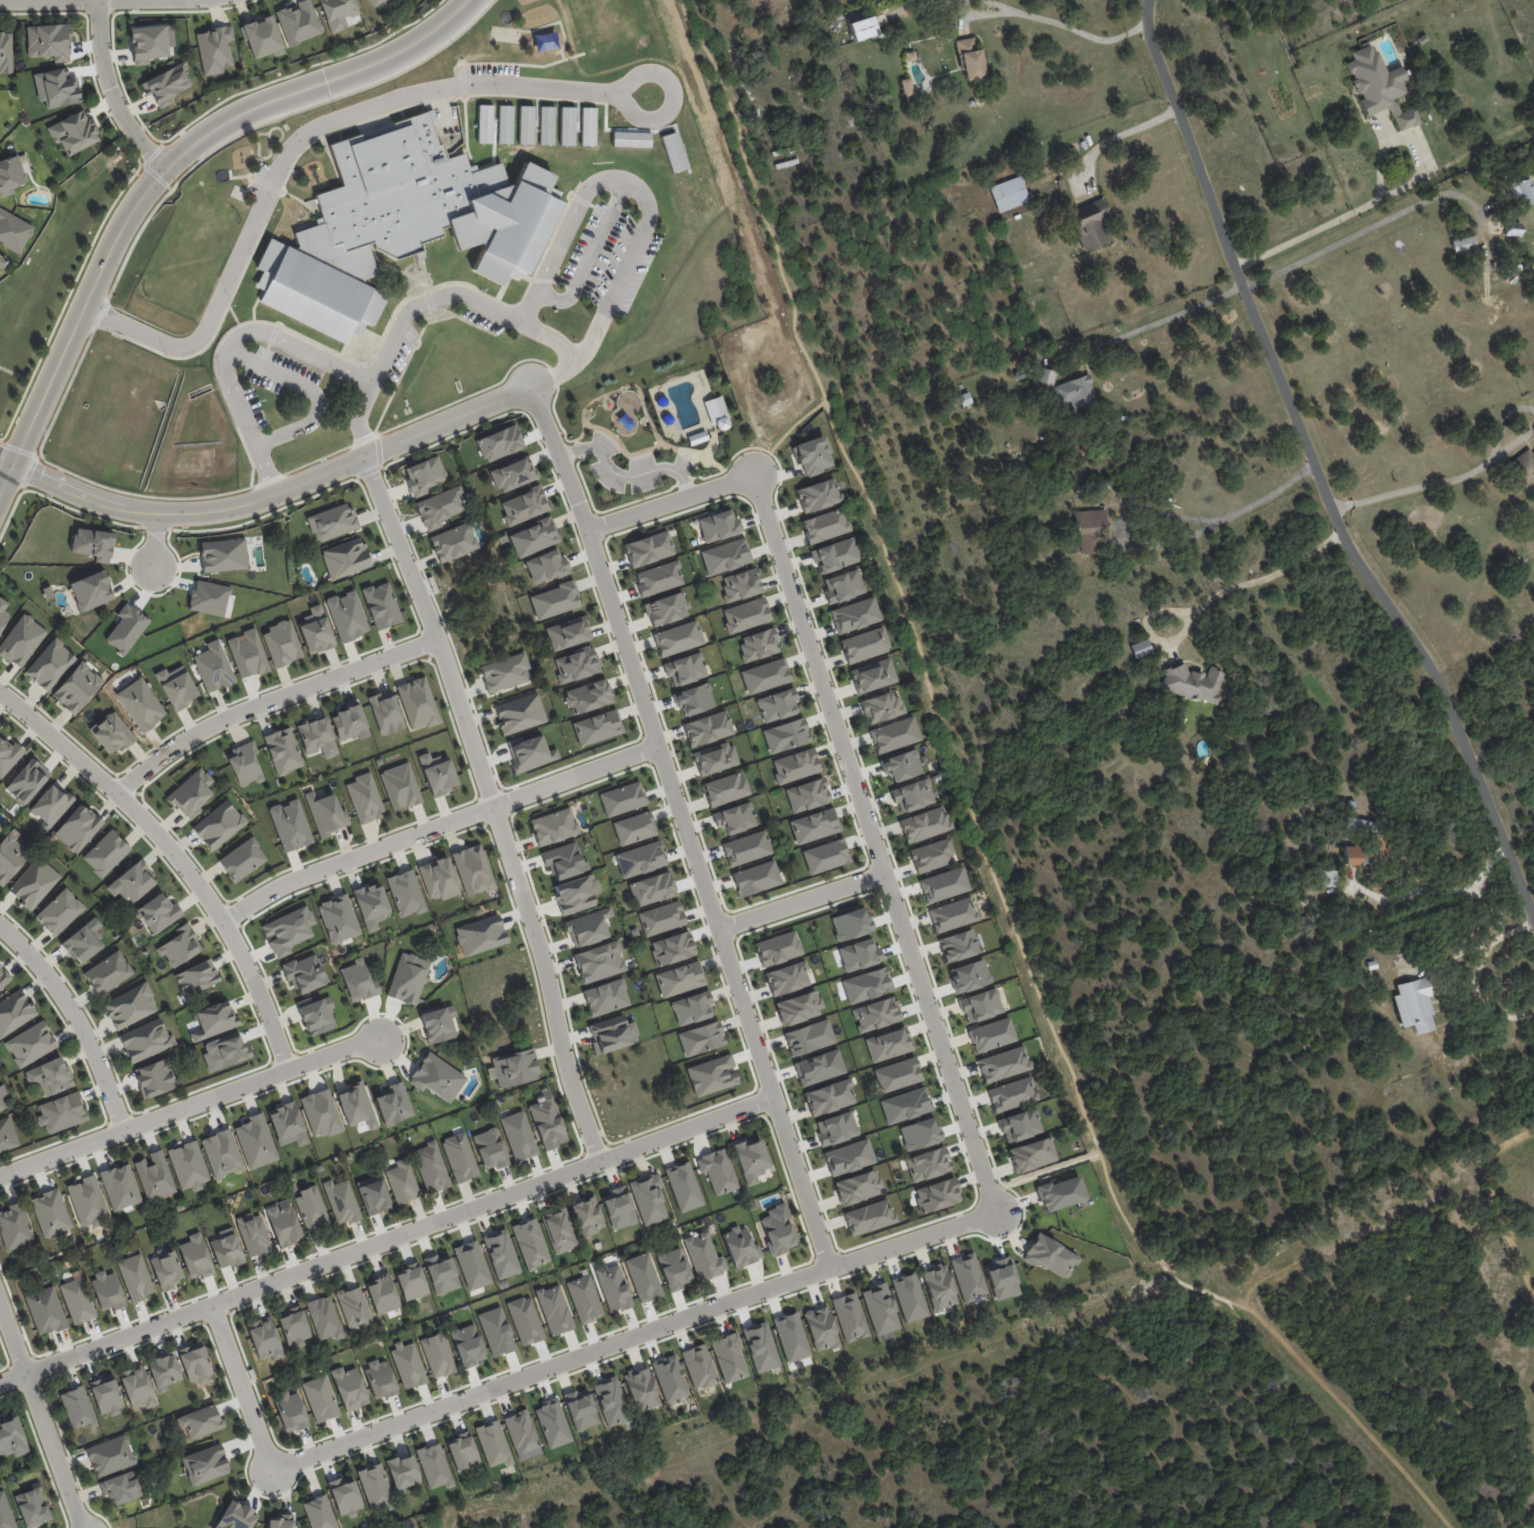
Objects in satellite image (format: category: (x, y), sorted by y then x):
building: (940, 2)
building: (376, 3)
road: (1002, 6)
building: (877, 11)
building: (337, 13)
road: (985, 13)
building: (298, 22)
building: (866, 27)
road: (1083, 33)
building: (261, 36)
building: (48, 41)
building: (147, 43)
building: (214, 49)
building: (7, 53)
building: (908, 56)
building: (970, 59)
building: (166, 85)
building: (1380, 86)
building: (906, 87)
building: (56, 88)
road: (111, 91)
road: (677, 93)
road: (271, 117)
building: (484, 123)
building: (505, 124)
building: (525, 124)
building: (546, 125)
building: (567, 125)
building: (587, 126)
road: (1120, 133)
building: (79, 134)
road: (294, 145)
building: (1072, 148)
building: (782, 151)
road: (168, 162)
building: (785, 164)
building: (13, 177)
building: (1061, 185)
building: (1522, 189)
building: (1008, 194)
road: (1379, 198)
road: (644, 202)
building: (405, 224)
building: (1089, 224)
road: (1375, 224)
building: (1512, 228)
building: (17, 233)
building: (1126, 242)
building: (1463, 243)
road: (587, 254)
building: (1, 263)
building: (1518, 266)
road: (446, 296)
road: (523, 303)
road: (100, 313)
road: (1160, 319)
road: (230, 346)
road: (553, 376)
building: (1041, 380)
road: (313, 389)
building: (1076, 392)
road: (466, 395)
road: (642, 402)
building: (717, 413)
road: (1509, 414)
building: (1123, 417)
road: (557, 419)
building: (874, 421)
road: (795, 422)
park: (652, 424)
road: (1515, 433)
road: (364, 439)
building: (498, 443)
road: (622, 447)
road: (578, 448)
building: (813, 455)
road: (317, 459)
road: (6, 460)
road: (379, 460)
road: (389, 461)
road: (382, 466)
road: (1315, 466)
building: (1524, 468)
building: (512, 474)
road: (78, 475)
building: (423, 475)
road: (624, 475)
road: (6, 477)
road: (1414, 477)
road: (269, 479)
road: (684, 480)
building: (1104, 484)
road: (277, 495)
building: (818, 495)
road: (1248, 505)
building: (522, 506)
building: (438, 507)
road: (607, 509)
road: (595, 513)
building: (332, 522)
building: (717, 525)
road: (598, 526)
building: (825, 526)
building: (1089, 529)
building: (533, 537)
road: (154, 541)
building: (453, 542)
building: (92, 543)
building: (648, 548)
building: (222, 555)
building: (836, 555)
building: (725, 556)
building: (345, 558)
building: (545, 566)
building: (658, 578)
building: (739, 584)
building: (843, 587)
building: (90, 590)
road: (1210, 597)
building: (554, 600)
building: (381, 605)
building: (666, 609)
building: (3, 614)
building: (346, 615)
building: (745, 615)
building: (856, 616)
building: (315, 630)
building: (567, 633)
building: (677, 638)
building: (21, 640)
road: (917, 641)
building: (281, 643)
building: (758, 644)
building: (865, 646)
building: (247, 653)
building: (49, 664)
building: (576, 664)
building: (213, 666)
building: (684, 669)
building: (504, 672)
building: (764, 676)
building: (874, 676)
building: (1192, 682)
building: (76, 687)
building: (176, 687)
building: (587, 696)
road: (267, 699)
building: (693, 699)
building: (417, 703)
building: (140, 704)
building: (776, 705)
building: (881, 705)
building: (385, 712)
building: (519, 713)
building: (349, 723)
building: (597, 727)
building: (707, 728)
building: (111, 733)
building: (895, 733)
building: (785, 735)
building: (316, 737)
road: (647, 749)
building: (282, 751)
building: (530, 753)
building: (8, 755)
road: (849, 755)
building: (714, 758)
road: (649, 762)
building: (901, 763)
building: (244, 765)
building: (795, 765)
road: (163, 770)
building: (437, 774)
road: (865, 775)
building: (26, 780)
building: (400, 786)
road: (501, 788)
building: (725, 788)
building: (191, 794)
building: (912, 794)
building: (807, 795)
building: (364, 798)
building: (622, 798)
road: (479, 799)
road: (493, 803)
building: (50, 805)
building: (1351, 806)
building: (326, 813)
road: (509, 813)
road: (511, 818)
building: (734, 818)
building: (925, 823)
building: (218, 825)
building: (290, 825)
building: (813, 825)
building: (0, 826)
road: (435, 826)
building: (553, 826)
building: (77, 828)
building: (633, 828)
road: (681, 828)
building: (1378, 840)
building: (746, 848)
building: (105, 853)
building: (11, 854)
building: (933, 854)
road: (176, 856)
building: (825, 856)
building: (242, 859)
building: (640, 859)
building: (563, 860)
road: (865, 863)
road: (868, 864)
building: (472, 869)
road: (874, 876)
building: (438, 878)
building: (756, 878)
building: (1328, 879)
building: (131, 882)
building: (33, 883)
building: (945, 883)
building: (651, 888)
road: (1437, 889)
road: (877, 890)
building: (405, 893)
building: (575, 893)
road: (801, 902)
building: (370, 905)
building: (59, 911)
road: (726, 911)
building: (158, 913)
building: (953, 914)
building: (337, 918)
building: (661, 918)
road: (729, 924)
building: (850, 924)
building: (587, 927)
building: (287, 930)
building: (480, 935)
building: (83, 941)
building: (960, 944)
building: (179, 946)
building: (672, 948)
building: (777, 948)
building: (858, 954)
building: (599, 961)
building: (1372, 965)
building: (107, 972)
building: (304, 973)
road: (1476, 973)
building: (970, 976)
building: (3, 977)
building: (196, 977)
building: (407, 978)
building: (679, 978)
building: (786, 978)
building: (358, 981)
building: (866, 985)
building: (605, 997)
building: (980, 1005)
building: (1413, 1005)
building: (130, 1006)
building: (691, 1007)
building: (797, 1007)
building: (14, 1011)
building: (875, 1014)
building: (317, 1015)
road: (75, 1018)
building: (213, 1020)
building: (438, 1024)
building: (992, 1033)
building: (611, 1034)
building: (808, 1037)
building: (700, 1038)
building: (145, 1040)
building: (30, 1043)
building: (887, 1044)
building: (224, 1051)
building: (1005, 1061)
building: (514, 1067)
building: (818, 1067)
building: (896, 1074)
building: (711, 1075)
building: (49, 1076)
building: (436, 1077)
building: (154, 1078)
building: (1012, 1093)
building: (828, 1097)
road: (763, 1100)
building: (1, 1103)
building: (393, 1104)
road: (191, 1105)
building: (355, 1105)
building: (904, 1105)
building: (61, 1112)
building: (320, 1113)
road: (765, 1114)
building: (546, 1123)
building: (287, 1124)
building: (1019, 1124)
building: (835, 1128)
building: (919, 1133)
building: (7, 1134)
building: (518, 1135)
building: (255, 1141)
building: (489, 1149)
building: (221, 1153)
building: (1032, 1154)
building: (459, 1157)
building: (847, 1157)
building: (750, 1160)
building: (927, 1164)
building: (187, 1165)
building: (430, 1167)
road: (1053, 1168)
building: (717, 1171)
building: (154, 1176)
building: (401, 1181)
building: (120, 1186)
building: (683, 1186)
building: (857, 1187)
building: (1060, 1191)
building: (372, 1194)
building: (936, 1195)
building: (648, 1198)
road: (974, 1199)
building: (87, 1201)
building: (341, 1201)
road: (1494, 1206)
building: (618, 1207)
building: (310, 1208)
building: (50, 1212)
building: (587, 1216)
building: (868, 1217)
building: (283, 1225)
building: (17, 1226)
building: (558, 1231)
building: (776, 1233)
building: (253, 1234)
road: (384, 1238)
building: (530, 1243)
building: (740, 1247)
building: (225, 1248)
road: (810, 1250)
road: (837, 1251)
building: (500, 1253)
building: (703, 1255)
building: (1048, 1255)
building: (195, 1256)
road: (826, 1257)
road: (813, 1259)
building: (471, 1265)
building: (673, 1268)
building: (165, 1270)
building: (440, 1273)
building: (968, 1276)
building: (135, 1277)
building: (643, 1277)
building: (1002, 1278)
building: (410, 1281)
building: (613, 1287)
building: (938, 1287)
building: (107, 1290)
building: (381, 1294)
building: (909, 1297)
building: (584, 1299)
building: (352, 1306)
building: (554, 1309)
building: (879, 1309)
building: (44, 1310)
road: (215, 1315)
building: (849, 1317)
building: (324, 1318)
building: (525, 1320)
building: (293, 1327)
building: (820, 1328)
building: (496, 1331)
building: (790, 1336)
building: (263, 1339)
building: (467, 1345)
road: (984, 1345)
building: (759, 1346)
building: (437, 1355)
building: (728, 1357)
building: (193, 1363)
building: (407, 1365)
building: (698, 1366)
building: (163, 1371)
road: (550, 1372)
road: (567, 1373)
building: (669, 1378)
building: (379, 1379)
building: (136, 1387)
building: (348, 1388)
building: (640, 1389)
building: (105, 1394)
building: (319, 1398)
building: (610, 1401)
park: (1138, 1404)
road: (1163, 1404)
building: (81, 1407)
building: (580, 1409)
building: (289, 1411)
road: (41, 1416)
building: (199, 1422)
building: (552, 1423)
building: (521, 1431)
building: (13, 1438)
building: (493, 1443)
building: (461, 1451)
building: (109, 1455)
building: (204, 1464)
building: (433, 1465)
building: (402, 1471)
building: (120, 1487)
building: (374, 1487)
road: (728, 1489)
building: (344, 1496)
building: (32, 1506)
building: (5, 1513)
building: (318, 1513)
building: (235, 1516)
road: (1140, 1519)
building: (280, 1521)
road: (599, 1527)

